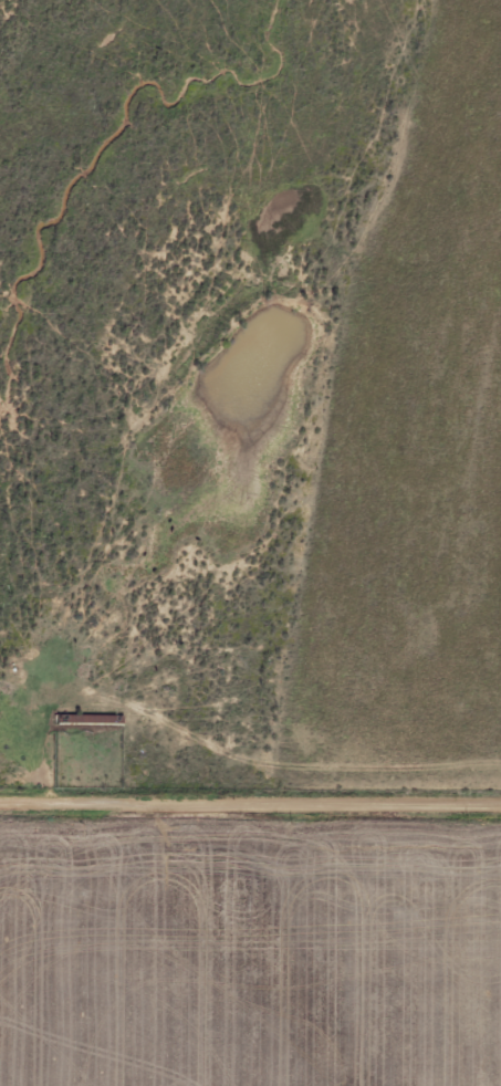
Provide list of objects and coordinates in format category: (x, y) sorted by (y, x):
road: (250, 801)

